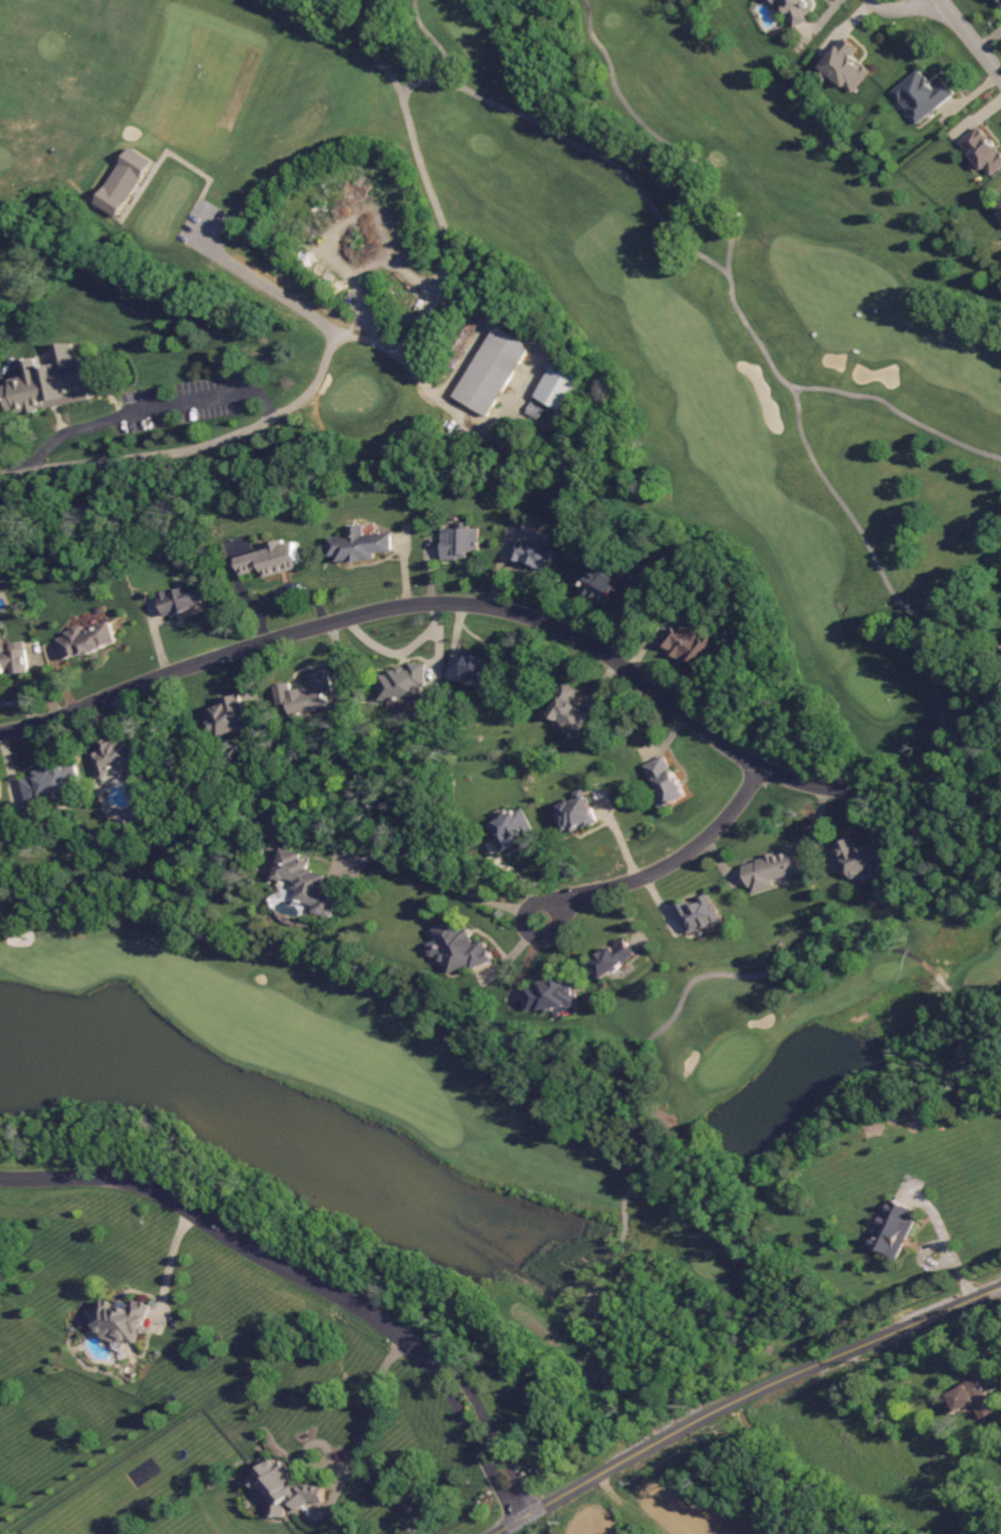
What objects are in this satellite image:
building: (999, 2)
road: (897, 10)
building: (798, 11)
road: (430, 39)
road: (966, 41)
building: (845, 71)
building: (920, 95)
road: (661, 140)
building: (982, 150)
road: (424, 179)
building: (124, 180)
building: (1000, 207)
road: (709, 261)
road: (261, 287)
park: (725, 299)
building: (490, 371)
building: (55, 380)
building: (558, 388)
road: (146, 411)
road: (244, 431)
building: (358, 540)
building: (460, 540)
building: (534, 552)
building: (272, 559)
building: (617, 586)
road: (889, 588)
building: (181, 599)
road: (441, 605)
building: (87, 640)
building: (688, 641)
building: (13, 660)
building: (484, 670)
building: (404, 684)
building: (306, 694)
building: (570, 708)
building: (228, 716)
building: (111, 756)
road: (971, 778)
building: (49, 781)
building: (664, 781)
building: (576, 814)
building: (510, 828)
building: (862, 857)
road: (668, 867)
building: (771, 868)
road: (442, 874)
building: (304, 881)
building: (699, 914)
building: (456, 946)
building: (614, 958)
road: (346, 969)
road: (687, 990)
building: (549, 993)
park: (484, 1083)
building: (893, 1231)
road: (228, 1241)
road: (947, 1243)
road: (165, 1266)
road: (586, 1308)
building: (121, 1321)
road: (742, 1399)
building: (969, 1399)
road: (370, 1413)
road: (493, 1432)
road: (475, 1444)
building: (284, 1489)

